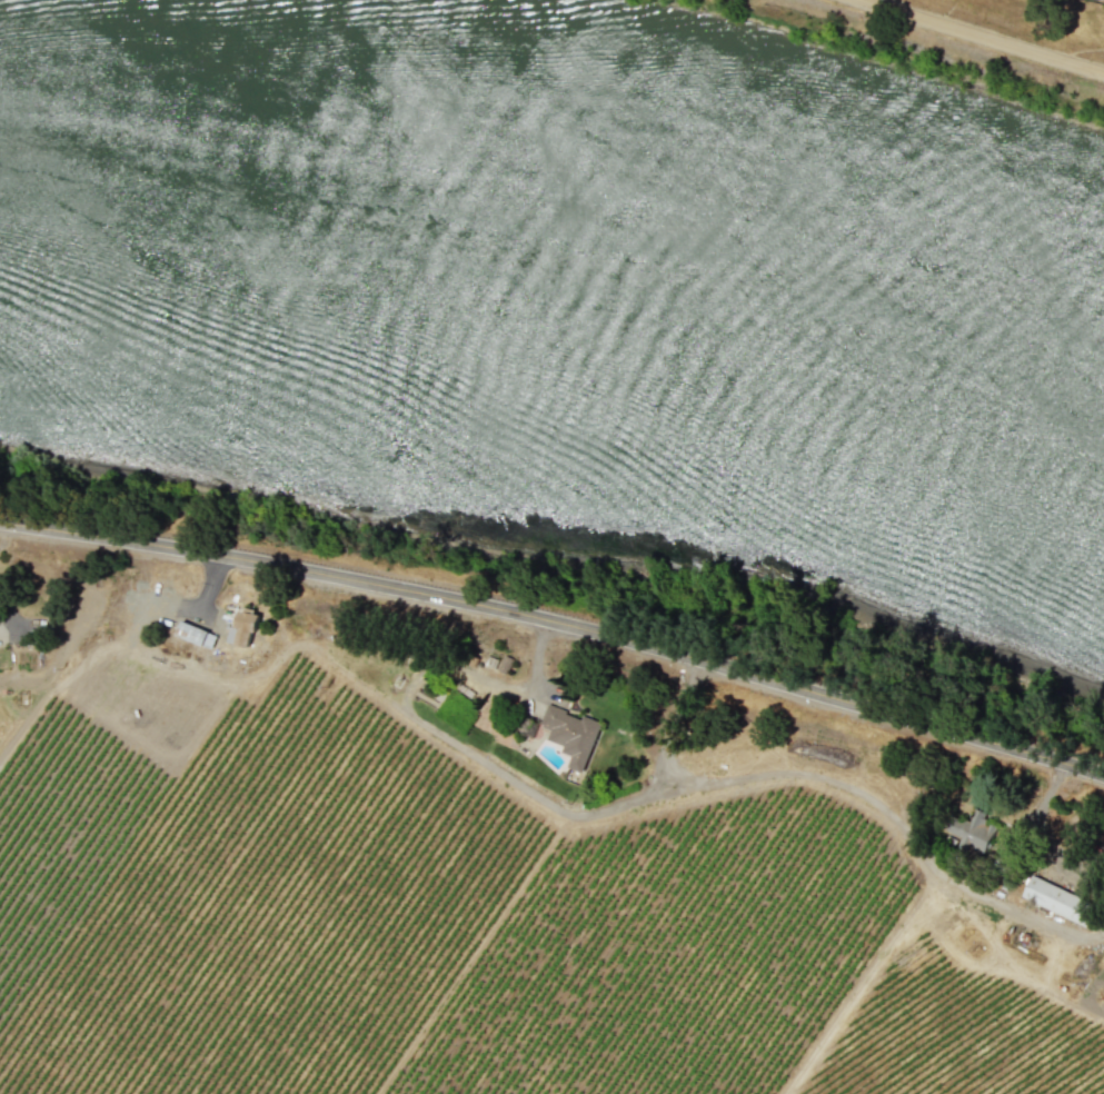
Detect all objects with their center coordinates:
road: (985, 36)
road: (1082, 49)
river: (557, 243)
road: (11, 616)
road: (557, 625)
building: (243, 627)
building: (191, 633)
building: (570, 734)
building: (973, 832)
building: (1058, 901)

